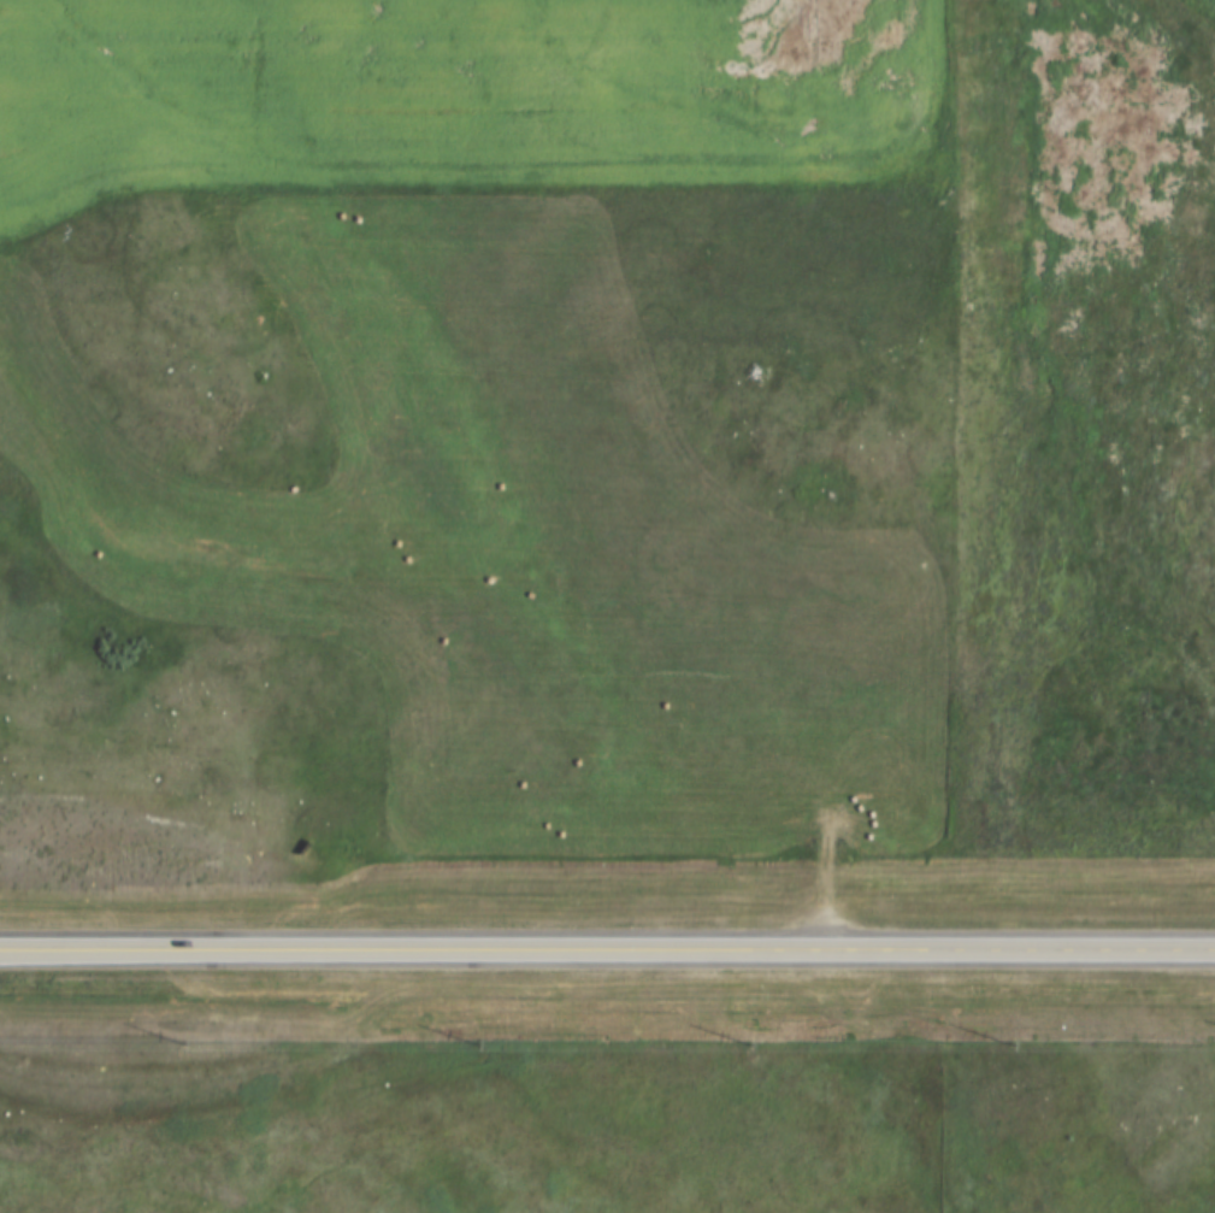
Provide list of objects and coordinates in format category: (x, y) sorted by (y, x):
road: (607, 946)

